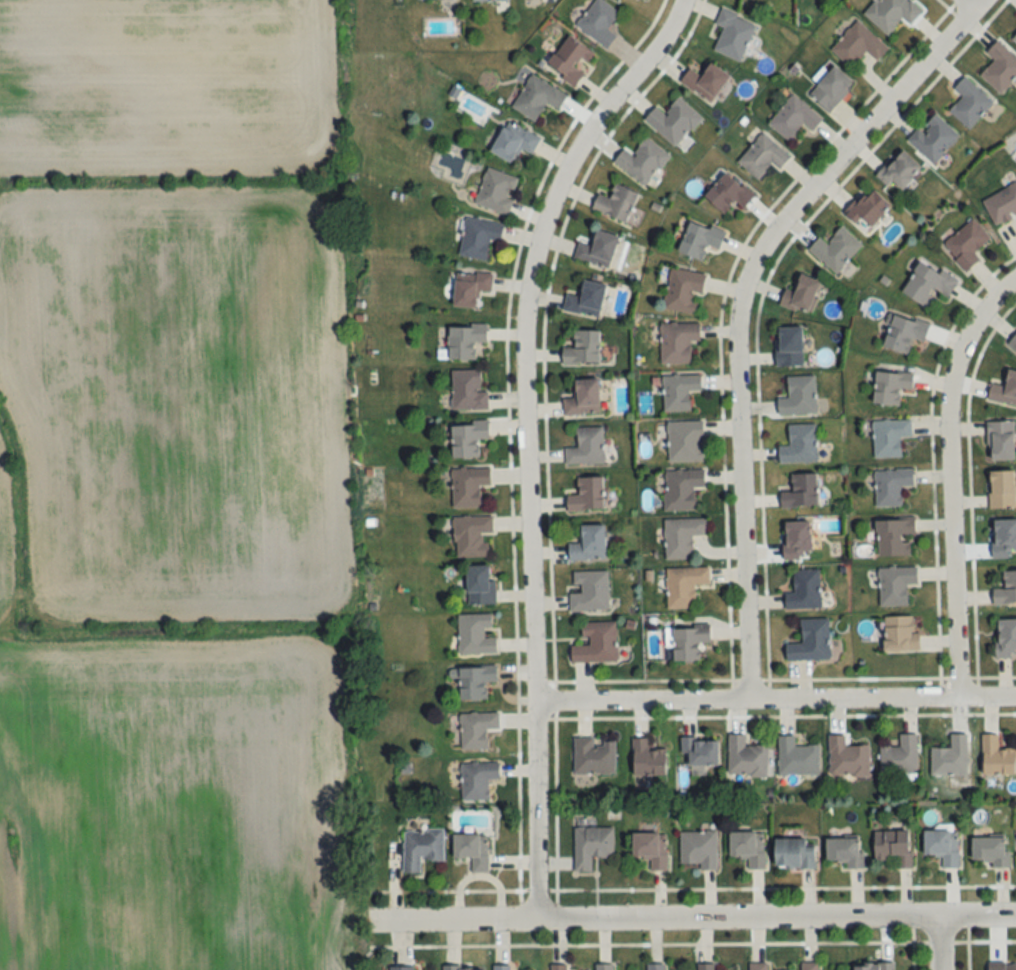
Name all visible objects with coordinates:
building: (488, 0)
road: (965, 6)
road: (947, 10)
building: (891, 13)
building: (598, 22)
building: (733, 35)
building: (1015, 40)
building: (857, 45)
building: (569, 61)
building: (1001, 66)
building: (706, 82)
building: (831, 89)
building: (537, 98)
building: (969, 103)
building: (794, 119)
building: (673, 121)
building: (933, 138)
road: (877, 142)
building: (513, 143)
building: (762, 157)
building: (641, 162)
building: (899, 171)
building: (496, 191)
building: (728, 193)
building: (616, 204)
building: (1002, 205)
building: (866, 209)
building: (478, 237)
building: (700, 240)
building: (966, 244)
building: (835, 249)
building: (597, 250)
building: (928, 283)
building: (470, 288)
building: (683, 291)
building: (801, 294)
building: (586, 300)
road: (741, 306)
building: (904, 334)
building: (464, 340)
building: (677, 342)
building: (789, 347)
building: (582, 348)
building: (891, 385)
building: (1004, 390)
building: (467, 391)
building: (679, 392)
building: (798, 397)
building: (583, 399)
road: (525, 438)
building: (889, 438)
building: (468, 439)
building: (1001, 441)
building: (685, 442)
building: (799, 445)
building: (586, 448)
road: (948, 478)
building: (468, 487)
building: (891, 487)
building: (682, 489)
building: (1002, 490)
building: (801, 492)
building: (587, 496)
building: (471, 536)
building: (682, 537)
building: (894, 537)
building: (1004, 539)
building: (796, 540)
building: (589, 544)
building: (895, 585)
building: (480, 586)
building: (684, 586)
building: (804, 590)
building: (1006, 590)
building: (589, 591)
building: (900, 634)
building: (475, 635)
building: (1006, 638)
building: (810, 641)
building: (688, 642)
building: (595, 643)
building: (473, 682)
road: (776, 699)
building: (477, 729)
building: (701, 752)
building: (593, 756)
building: (900, 756)
building: (745, 758)
building: (796, 758)
building: (950, 758)
building: (997, 758)
building: (647, 759)
building: (847, 759)
building: (477, 779)
building: (591, 845)
building: (942, 845)
building: (894, 846)
building: (422, 847)
building: (748, 847)
building: (651, 848)
building: (698, 848)
building: (472, 849)
building: (845, 850)
building: (991, 850)
building: (794, 853)
road: (711, 920)
road: (940, 944)
building: (604, 966)
building: (655, 966)
building: (706, 966)
building: (758, 966)
building: (810, 966)
building: (874, 966)
building: (1002, 966)
building: (501, 967)
building: (558, 967)
building: (402, 968)
building: (463, 968)

